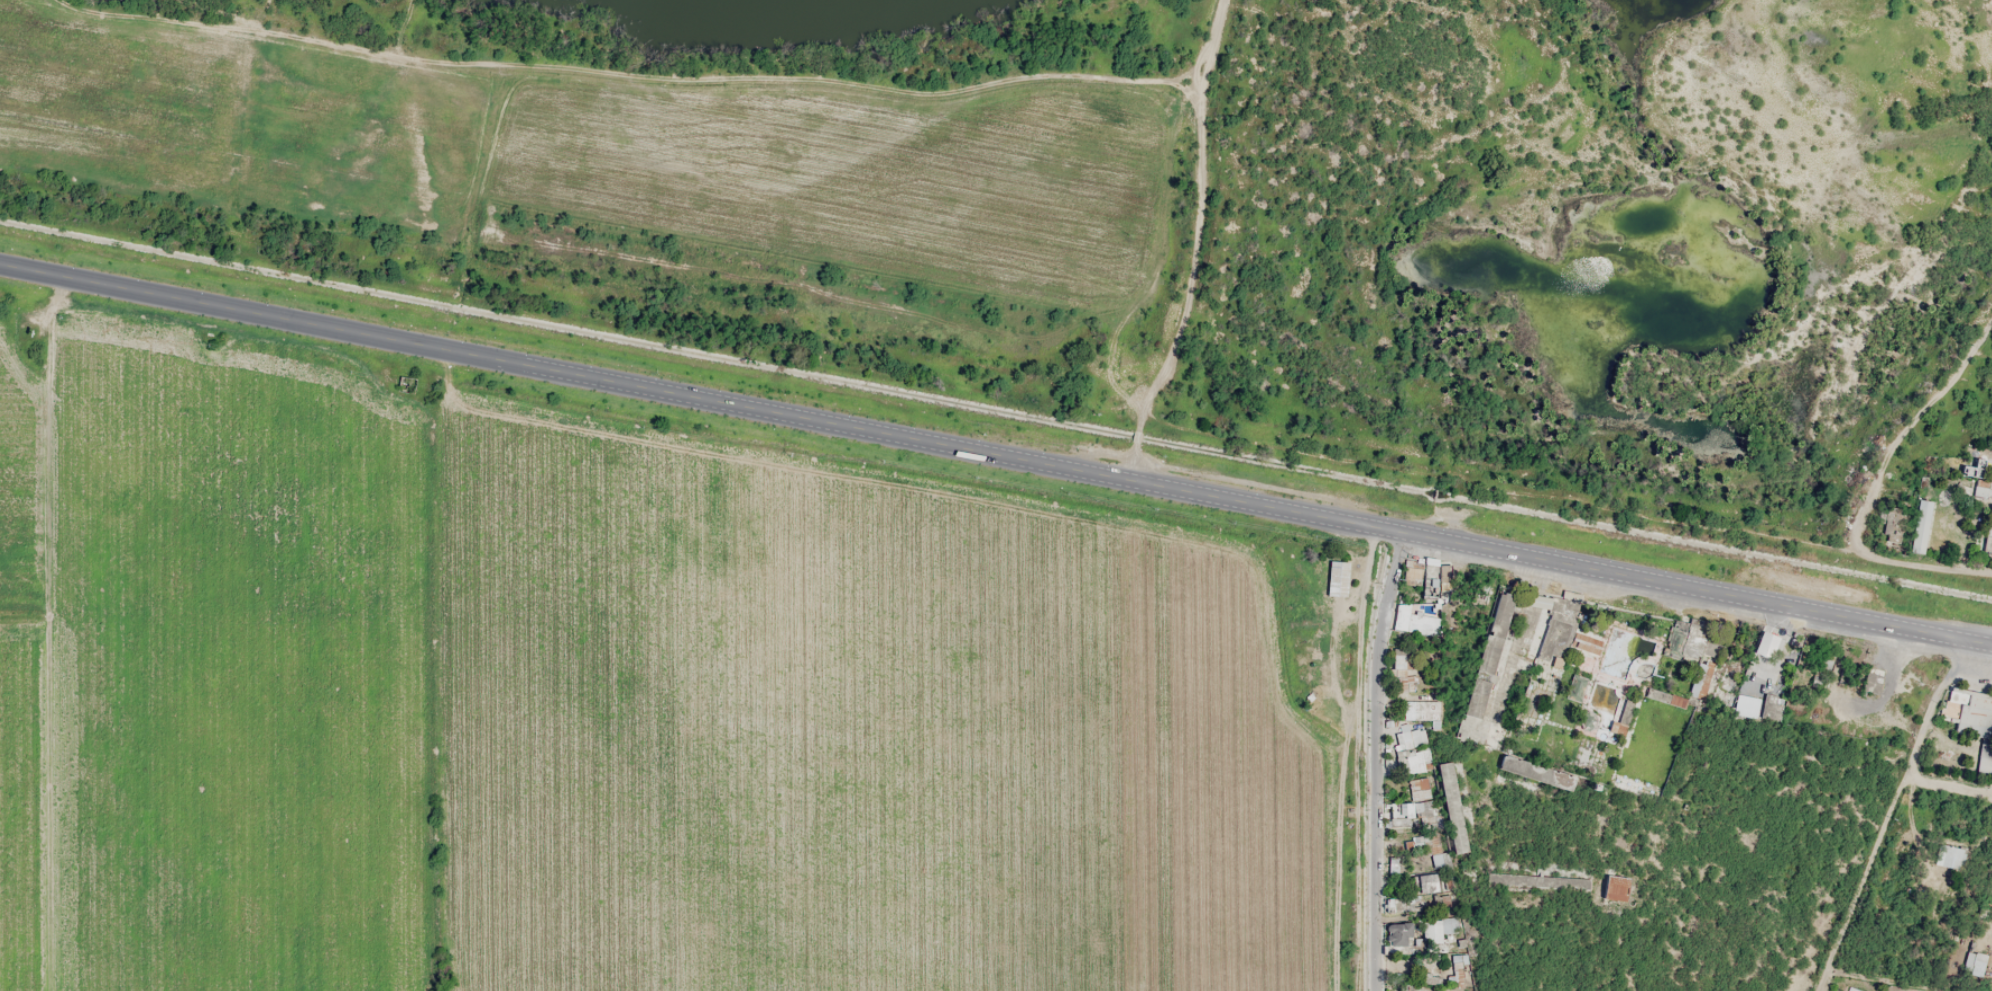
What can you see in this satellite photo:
road: (698, 396)
road: (1908, 427)
road: (1923, 563)
road: (1694, 588)
road: (1376, 760)
road: (1949, 785)
road: (1889, 815)
road: (1880, 980)

